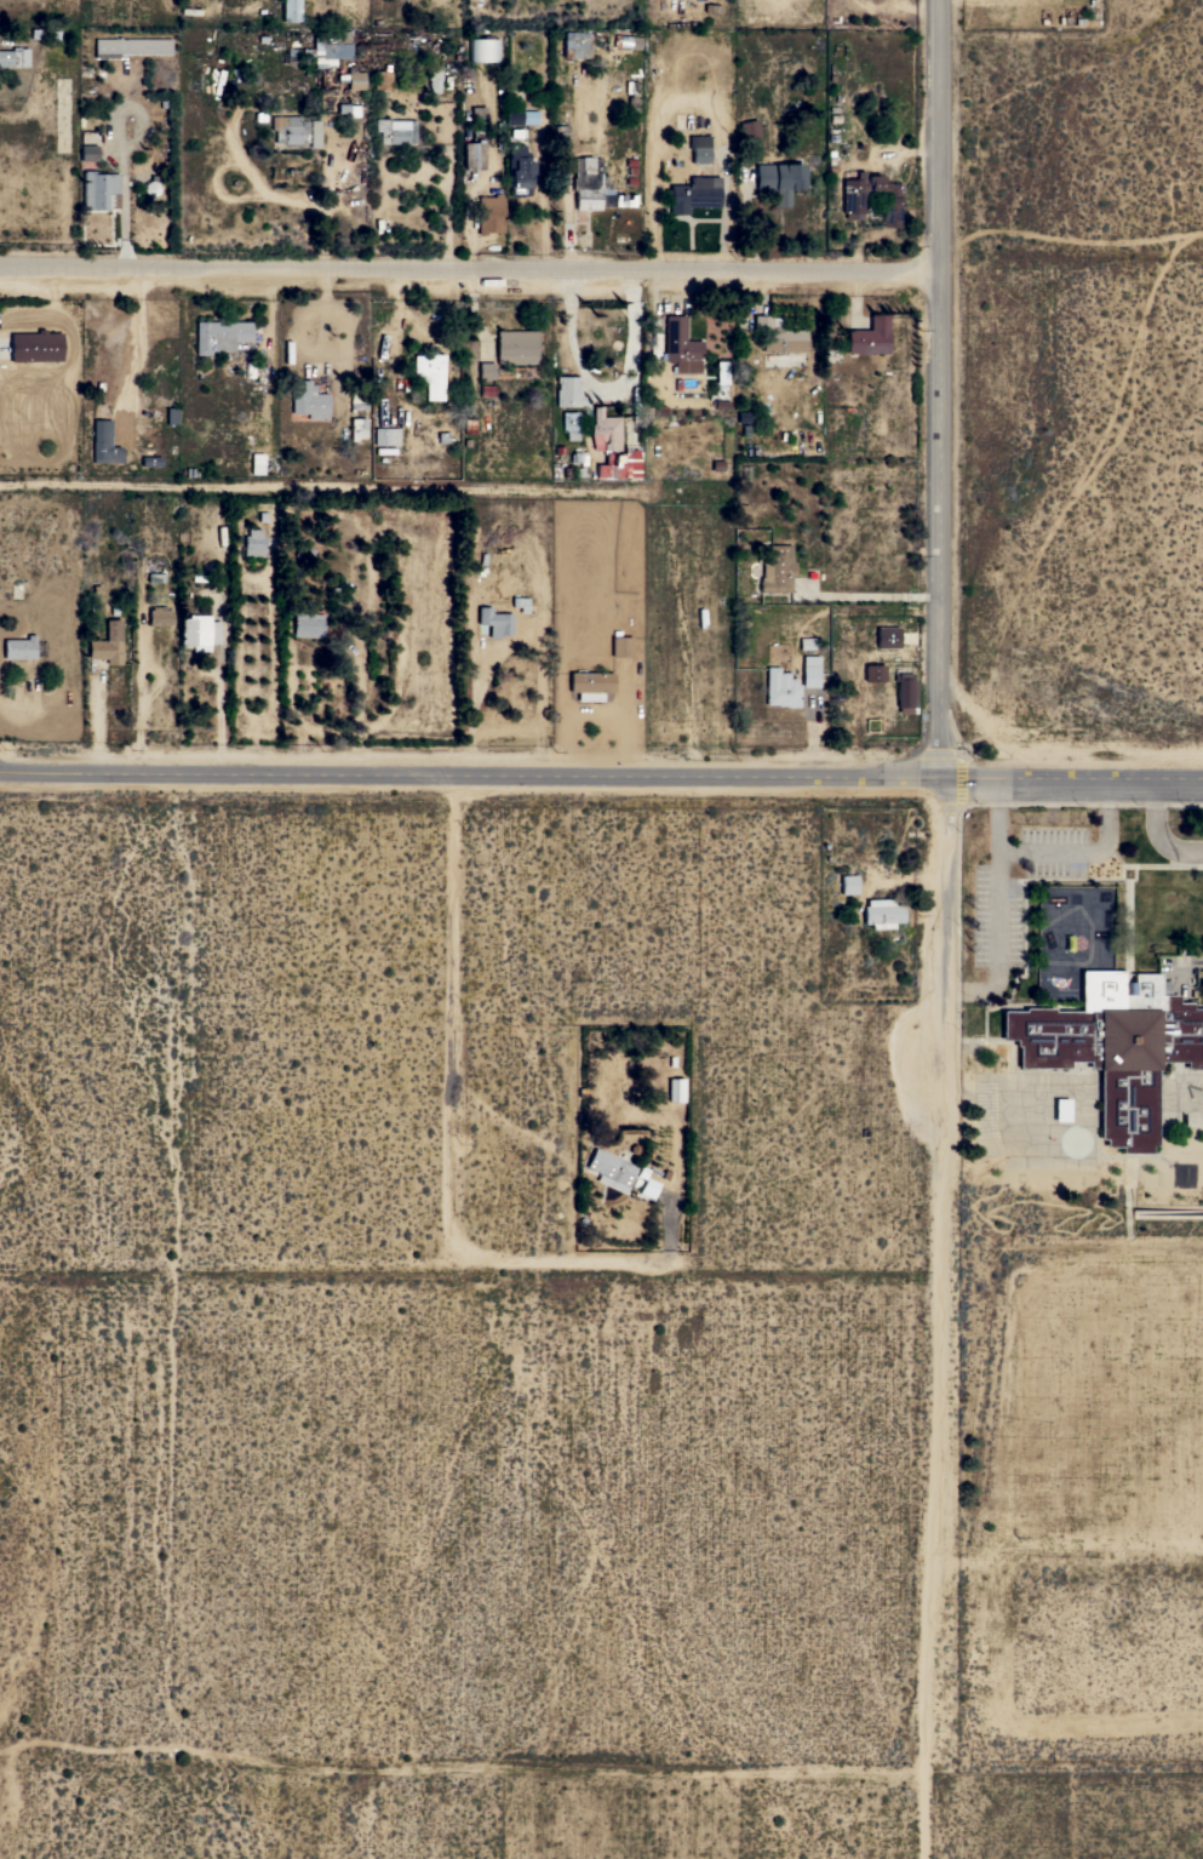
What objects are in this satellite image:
building: (291, 10)
building: (625, 41)
building: (575, 45)
building: (131, 46)
building: (328, 47)
building: (482, 50)
building: (13, 57)
building: (382, 78)
building: (351, 79)
building: (432, 80)
building: (631, 97)
building: (519, 116)
building: (749, 128)
building: (290, 130)
building: (395, 131)
building: (314, 133)
building: (475, 139)
building: (699, 148)
building: (88, 153)
building: (519, 170)
building: (779, 179)
building: (592, 187)
building: (99, 190)
building: (692, 195)
building: (853, 198)
building: (489, 213)
road: (470, 268)
building: (219, 336)
building: (778, 336)
building: (869, 337)
building: (34, 345)
building: (680, 345)
building: (515, 347)
building: (485, 370)
building: (429, 373)
building: (721, 382)
road: (603, 385)
building: (567, 390)
road: (941, 393)
building: (308, 400)
building: (356, 400)
building: (171, 416)
building: (568, 425)
building: (357, 430)
building: (385, 436)
building: (103, 444)
building: (612, 447)
building: (150, 461)
building: (257, 463)
road: (469, 491)
building: (252, 543)
building: (303, 551)
building: (777, 568)
building: (159, 614)
building: (493, 622)
building: (307, 624)
building: (197, 631)
building: (887, 636)
building: (806, 642)
building: (107, 643)
building: (620, 646)
building: (18, 647)
building: (378, 650)
building: (873, 673)
building: (809, 674)
building: (589, 685)
building: (780, 690)
building: (904, 692)
road: (601, 780)
road: (996, 819)
road: (996, 854)
building: (848, 885)
building: (882, 913)
road: (952, 915)
road: (453, 1016)
building: (1113, 1046)
building: (675, 1089)
road: (498, 1119)
building: (609, 1169)
road: (666, 1228)
road: (572, 1262)
road: (944, 1452)

